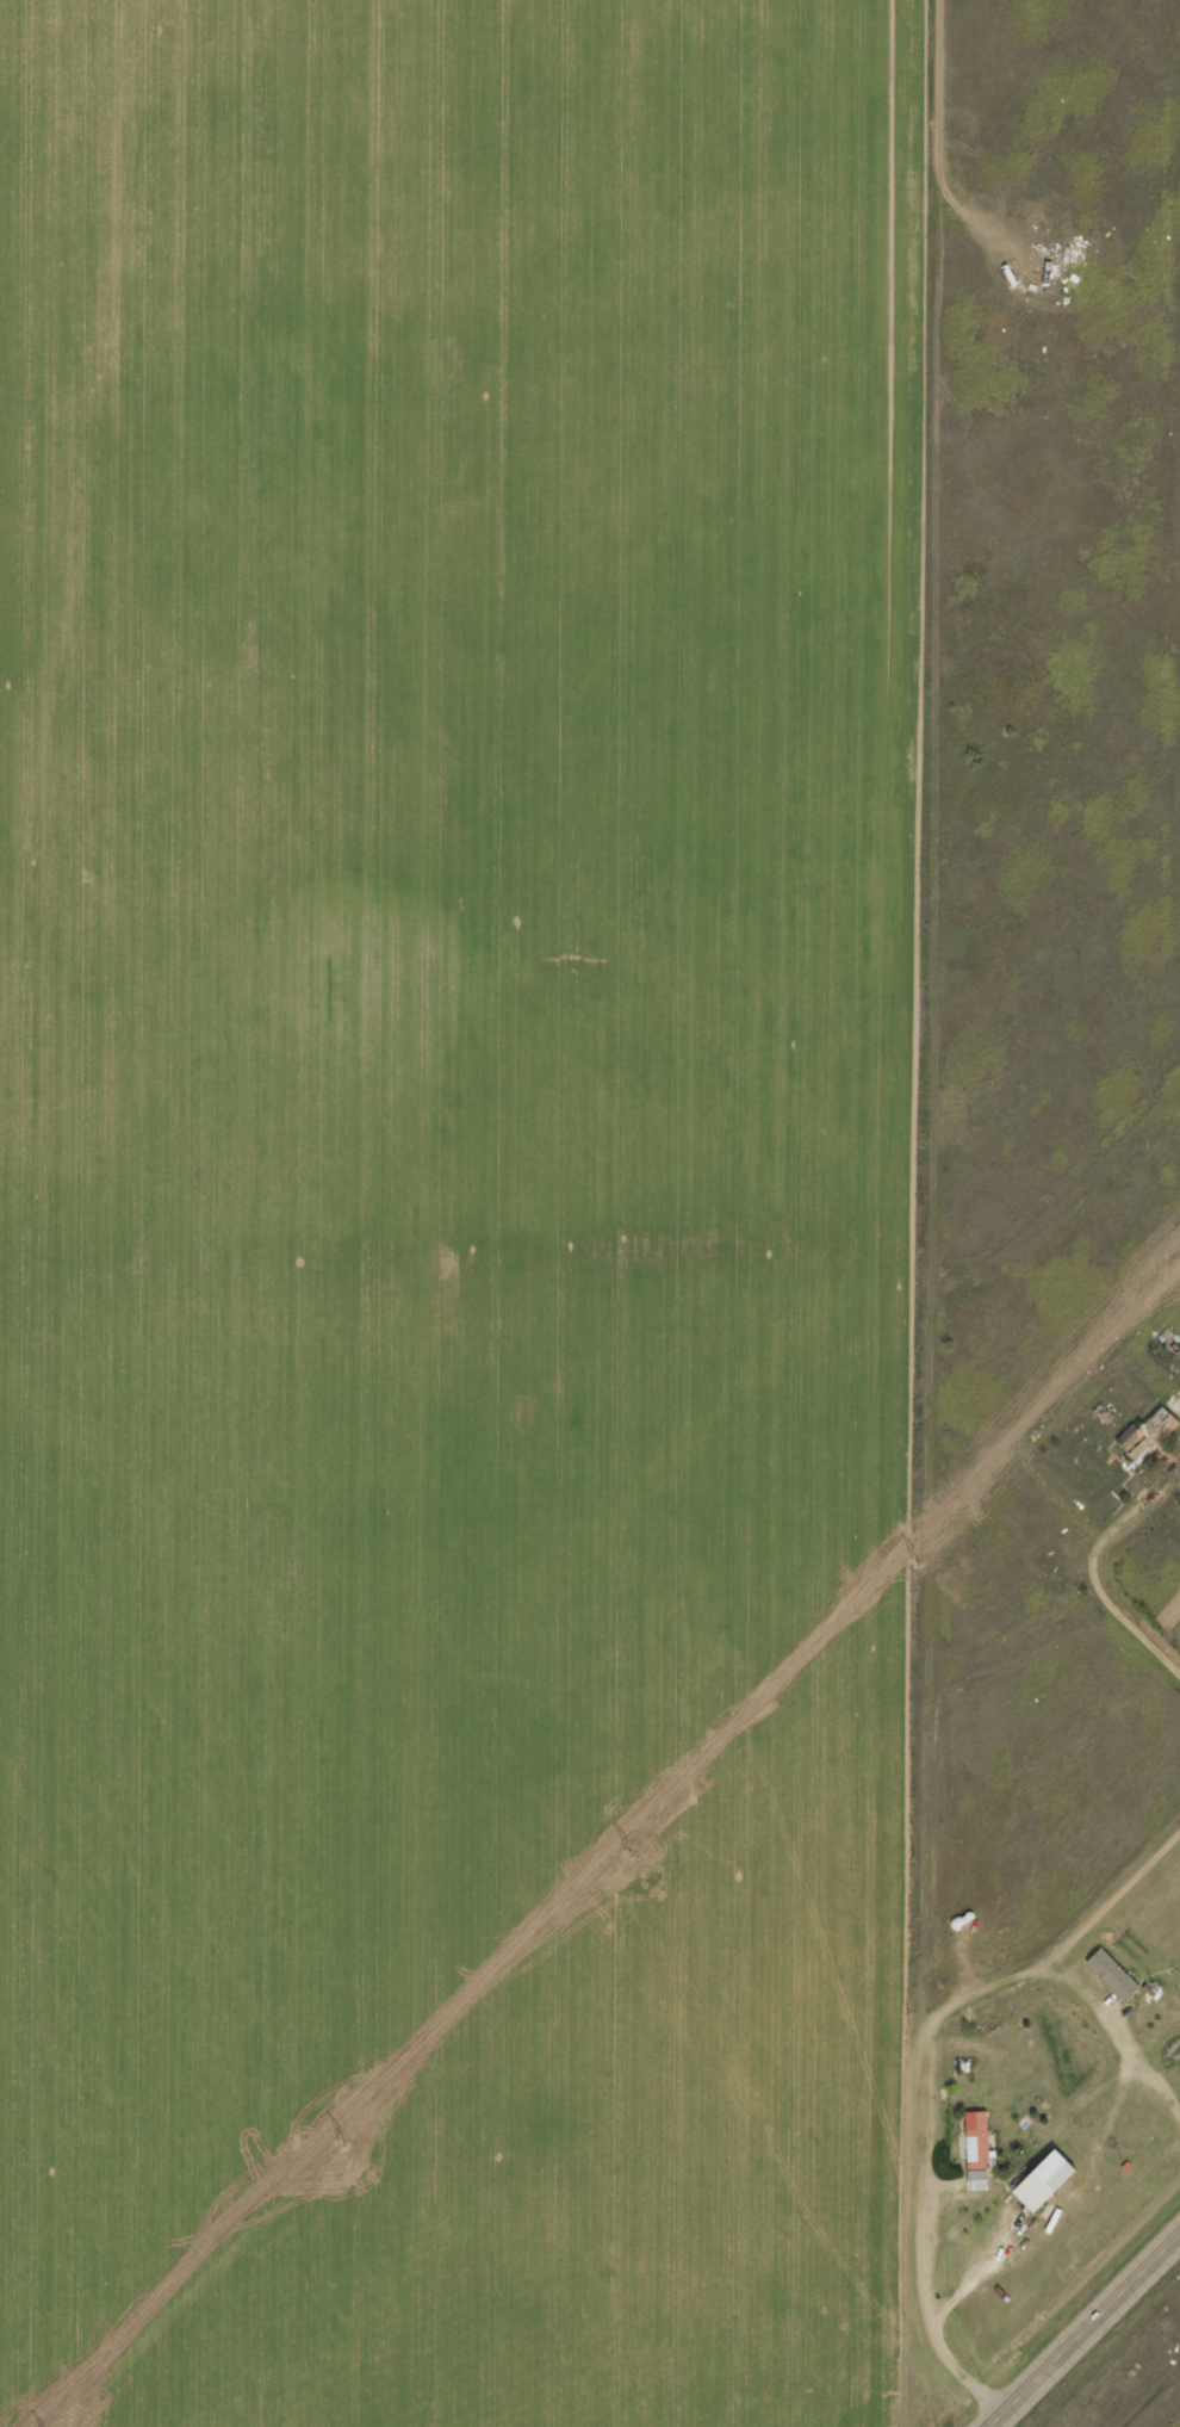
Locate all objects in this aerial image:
road: (1057, 411)
road: (1058, 1203)
road: (938, 1213)
power tower: (912, 1562)
road: (1055, 1593)
road: (1130, 1615)
power tower: (626, 1852)
road: (1064, 1951)
building: (1111, 1973)
building: (979, 2140)
power tower: (339, 2141)
building: (1039, 2179)
road: (1086, 2333)

